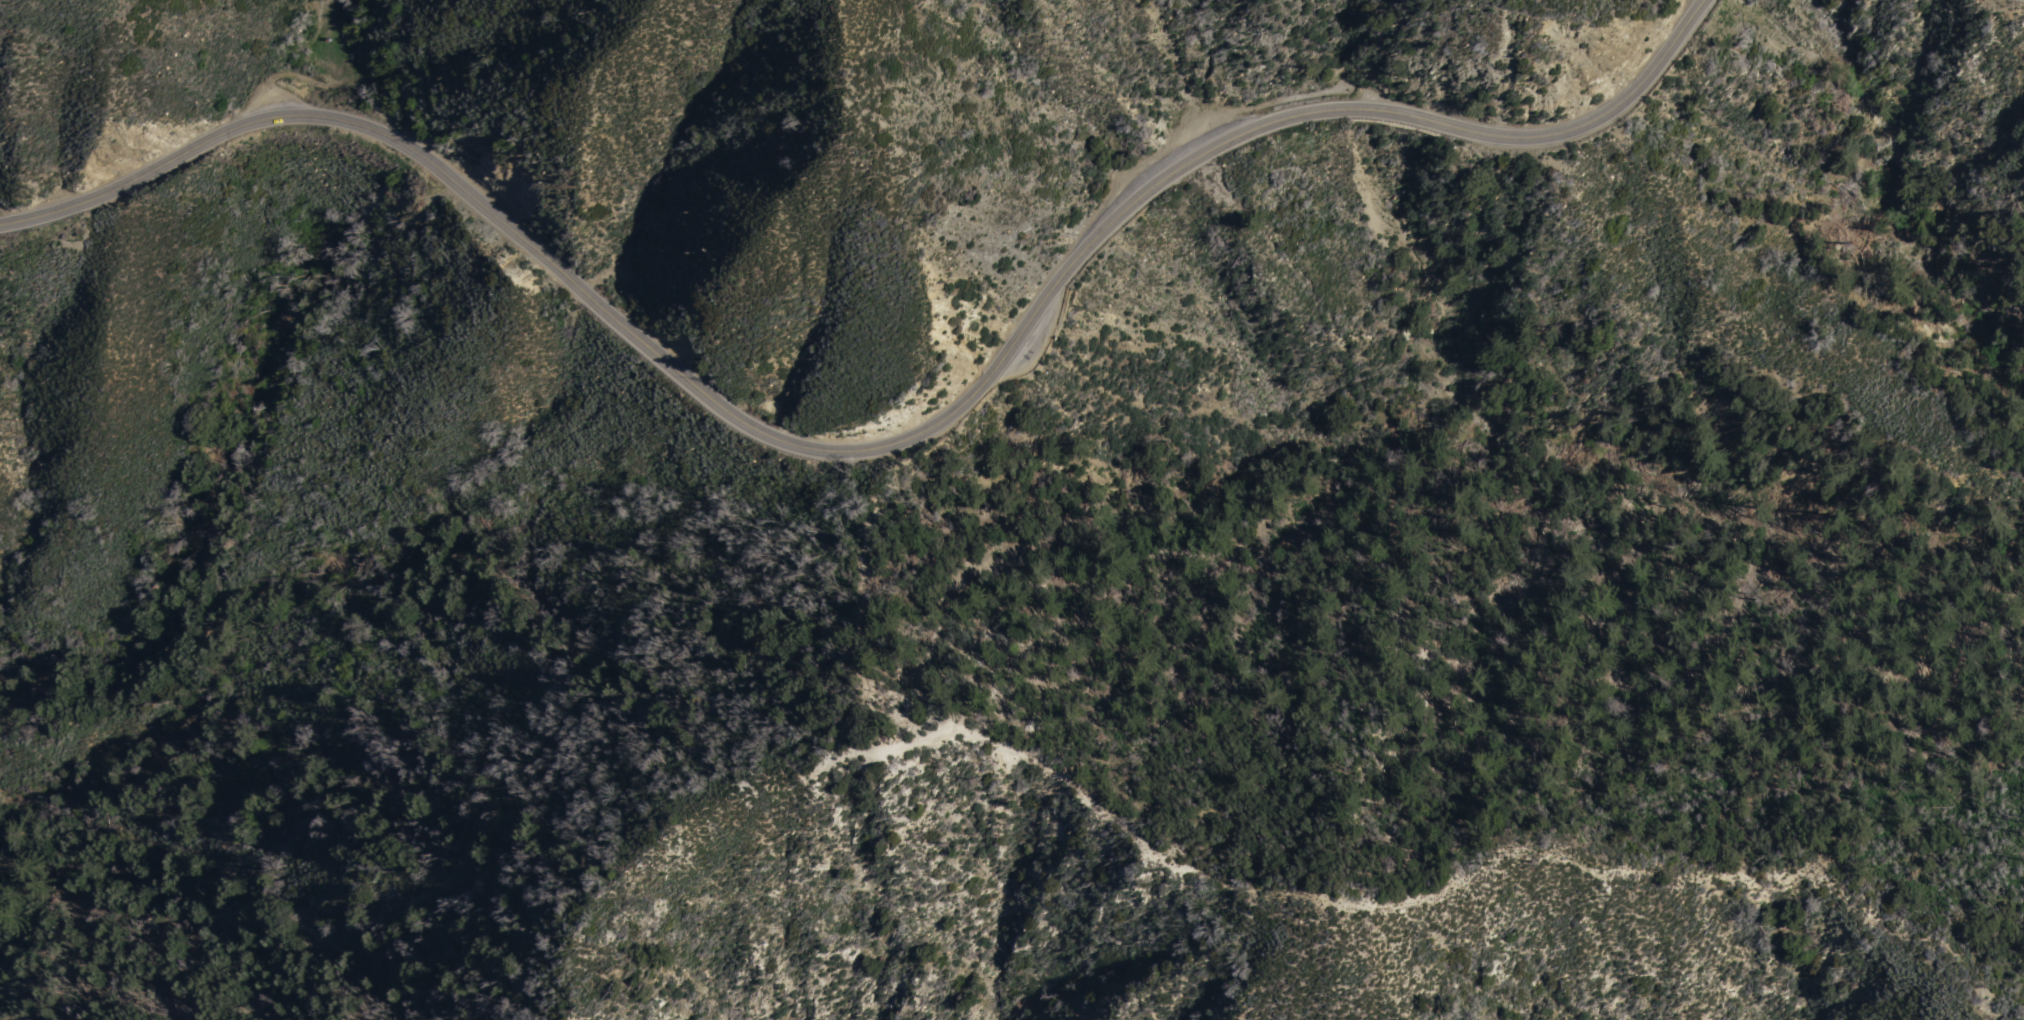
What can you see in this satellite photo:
road: (886, 446)

